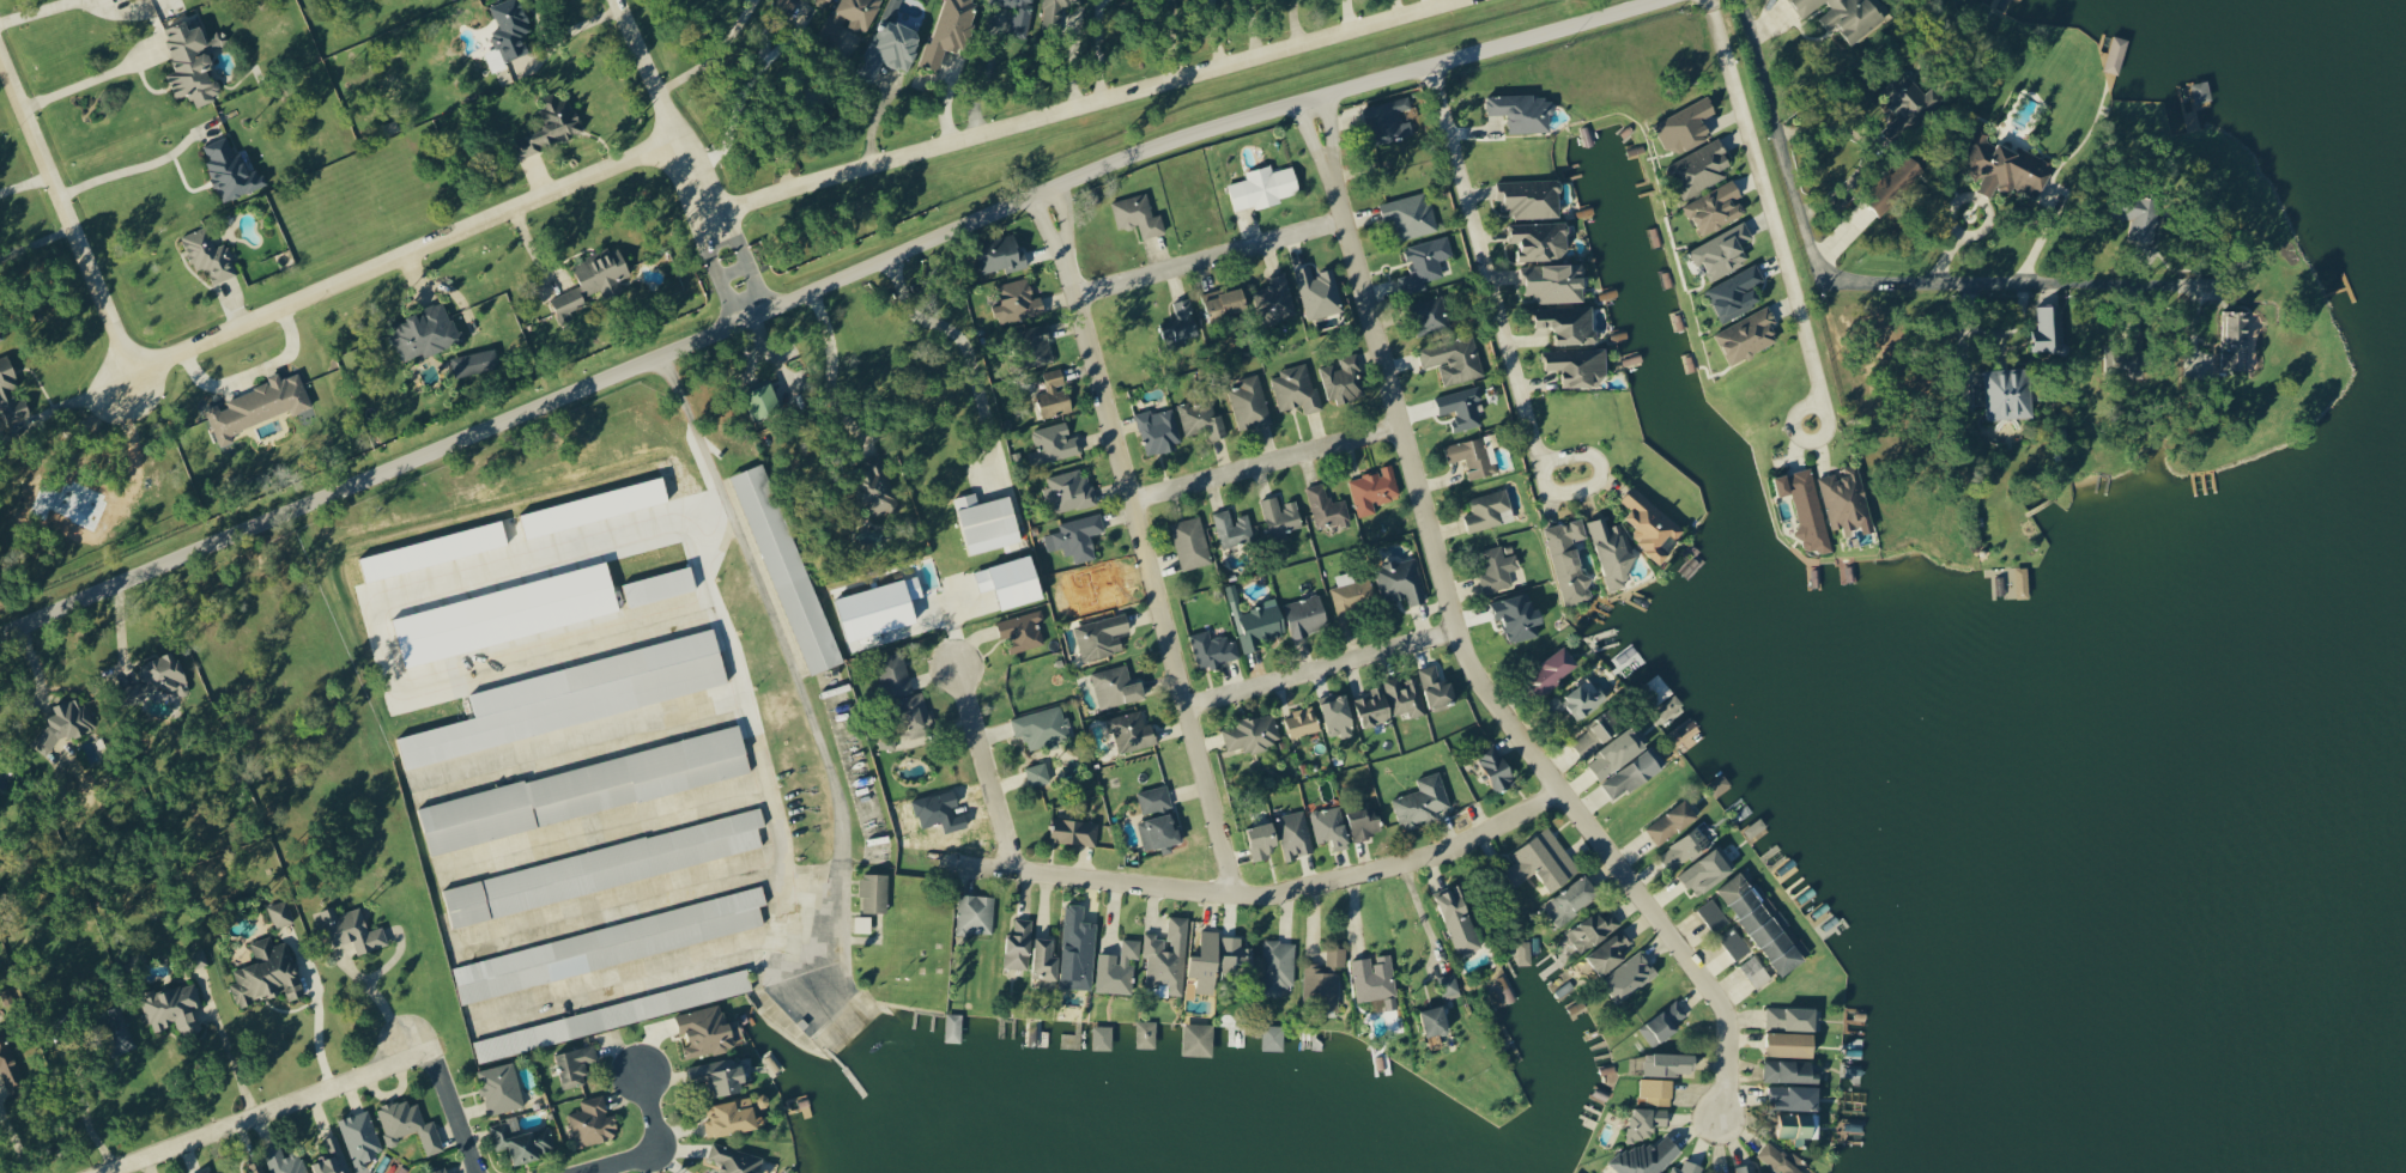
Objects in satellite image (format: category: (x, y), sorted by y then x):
building: (135, 0)
building: (824, 2)
building: (787, 6)
building: (1055, 6)
road: (36, 10)
building: (1019, 14)
building: (1846, 16)
building: (852, 17)
road: (1249, 28)
building: (511, 29)
building: (950, 31)
road: (565, 35)
building: (891, 44)
road: (1096, 49)
building: (2117, 50)
road: (713, 53)
building: (496, 60)
building: (193, 62)
road: (87, 80)
building: (1907, 97)
road: (746, 98)
road: (1080, 104)
building: (1523, 111)
building: (1390, 120)
building: (551, 126)
building: (1686, 126)
road: (687, 154)
building: (2006, 166)
building: (1701, 168)
road: (126, 170)
building: (231, 170)
road: (29, 182)
building: (1896, 182)
building: (1263, 187)
building: (1531, 197)
building: (1717, 208)
road: (1780, 209)
building: (1138, 215)
building: (1411, 215)
building: (2139, 217)
road: (2043, 232)
building: (1540, 241)
road: (1814, 250)
building: (1723, 251)
building: (1001, 254)
building: (208, 255)
road: (1208, 256)
building: (1425, 263)
building: (602, 273)
road: (1499, 274)
road: (2067, 281)
road: (2143, 281)
building: (1556, 282)
road: (813, 285)
building: (1319, 291)
building: (1737, 293)
building: (1275, 299)
building: (569, 300)
building: (1018, 302)
building: (1226, 303)
building: (1434, 315)
building: (1186, 320)
building: (1569, 323)
building: (2050, 329)
building: (426, 332)
road: (1993, 332)
building: (1749, 335)
road: (250, 338)
building: (0, 339)
building: (2235, 340)
road: (975, 345)
building: (1038, 345)
building: (1455, 359)
building: (475, 363)
road: (828, 365)
building: (1578, 365)
building: (1341, 378)
building: (1296, 389)
building: (1981, 393)
building: (2011, 394)
building: (1055, 395)
road: (83, 399)
building: (764, 401)
building: (1250, 403)
building: (257, 406)
building: (1462, 408)
building: (1202, 419)
building: (1158, 431)
building: (1055, 442)
road: (1410, 455)
building: (1473, 457)
road: (1266, 461)
building: (875, 486)
building: (1071, 490)
building: (1374, 490)
building: (1847, 499)
building: (1327, 509)
building: (1806, 509)
building: (1487, 510)
building: (1281, 515)
building: (988, 523)
building: (1650, 524)
building: (1232, 528)
building: (1077, 537)
road: (1141, 539)
building: (1190, 543)
building: (1613, 554)
building: (1570, 560)
building: (787, 569)
building: (1498, 569)
building: (1012, 582)
building: (1400, 582)
building: (659, 586)
building: (1232, 592)
building: (1351, 597)
building: (1308, 615)
building: (1519, 618)
building: (878, 619)
building: (1261, 625)
building: (1022, 632)
building: (1102, 637)
building: (1213, 649)
road: (781, 655)
road: (1323, 665)
building: (1553, 671)
building: (896, 674)
building: (163, 677)
building: (1116, 687)
building: (1437, 687)
building: (580, 695)
building: (1405, 695)
building: (1580, 701)
building: (1375, 707)
building: (916, 715)
building: (1339, 716)
building: (1303, 722)
building: (66, 724)
building: (1042, 727)
building: (1132, 733)
building: (1254, 734)
building: (886, 741)
building: (1610, 743)
road: (989, 766)
building: (1497, 767)
building: (1038, 774)
building: (1632, 776)
building: (586, 788)
building: (1154, 798)
building: (1423, 800)
building: (1364, 821)
building: (1672, 821)
building: (1331, 826)
building: (1756, 827)
building: (1075, 831)
building: (1160, 831)
building: (1295, 834)
building: (1262, 838)
building: (1685, 847)
building: (1544, 861)
building: (605, 867)
building: (1708, 870)
building: (874, 891)
road: (1267, 894)
building: (1572, 899)
building: (280, 913)
building: (976, 913)
road: (1423, 914)
building: (1713, 914)
building: (1459, 919)
building: (863, 923)
building: (1765, 923)
building: (351, 929)
building: (1593, 929)
road: (1678, 937)
building: (1019, 942)
building: (1734, 943)
building: (610, 944)
building: (1078, 948)
building: (1611, 952)
building: (1235, 954)
building: (199, 956)
building: (1168, 956)
road: (390, 958)
building: (1047, 961)
building: (1207, 961)
building: (1279, 965)
building: (1117, 967)
building: (1756, 971)
building: (267, 973)
building: (1632, 973)
building: (1326, 976)
building: (1376, 979)
building: (1449, 984)
road: (378, 1001)
building: (172, 1005)
road: (315, 1005)
building: (613, 1015)
building: (1792, 1016)
building: (1436, 1020)
building: (1663, 1022)
building: (117, 1031)
building: (705, 1031)
building: (1103, 1037)
building: (1201, 1037)
building: (1273, 1037)
building: (1793, 1043)
building: (1666, 1063)
building: (8, 1064)
road: (234, 1064)
building: (576, 1064)
building: (1792, 1070)
building: (720, 1075)
building: (501, 1087)
building: (1657, 1089)
building: (1795, 1096)
road: (266, 1110)
road: (456, 1112)
building: (731, 1116)
road: (83, 1118)
building: (593, 1122)
building: (1648, 1122)
building: (410, 1124)
building: (360, 1137)
building: (523, 1138)
road: (13, 1144)
road: (656, 1147)
building: (1648, 1156)
building: (333, 1159)
building: (735, 1159)
building: (1783, 1160)
building: (285, 1161)
building: (1689, 1167)
building: (1747, 1168)
building: (438, 1171)
building: (204, 1172)
building: (1577, 1172)
building: (1766, 1172)

